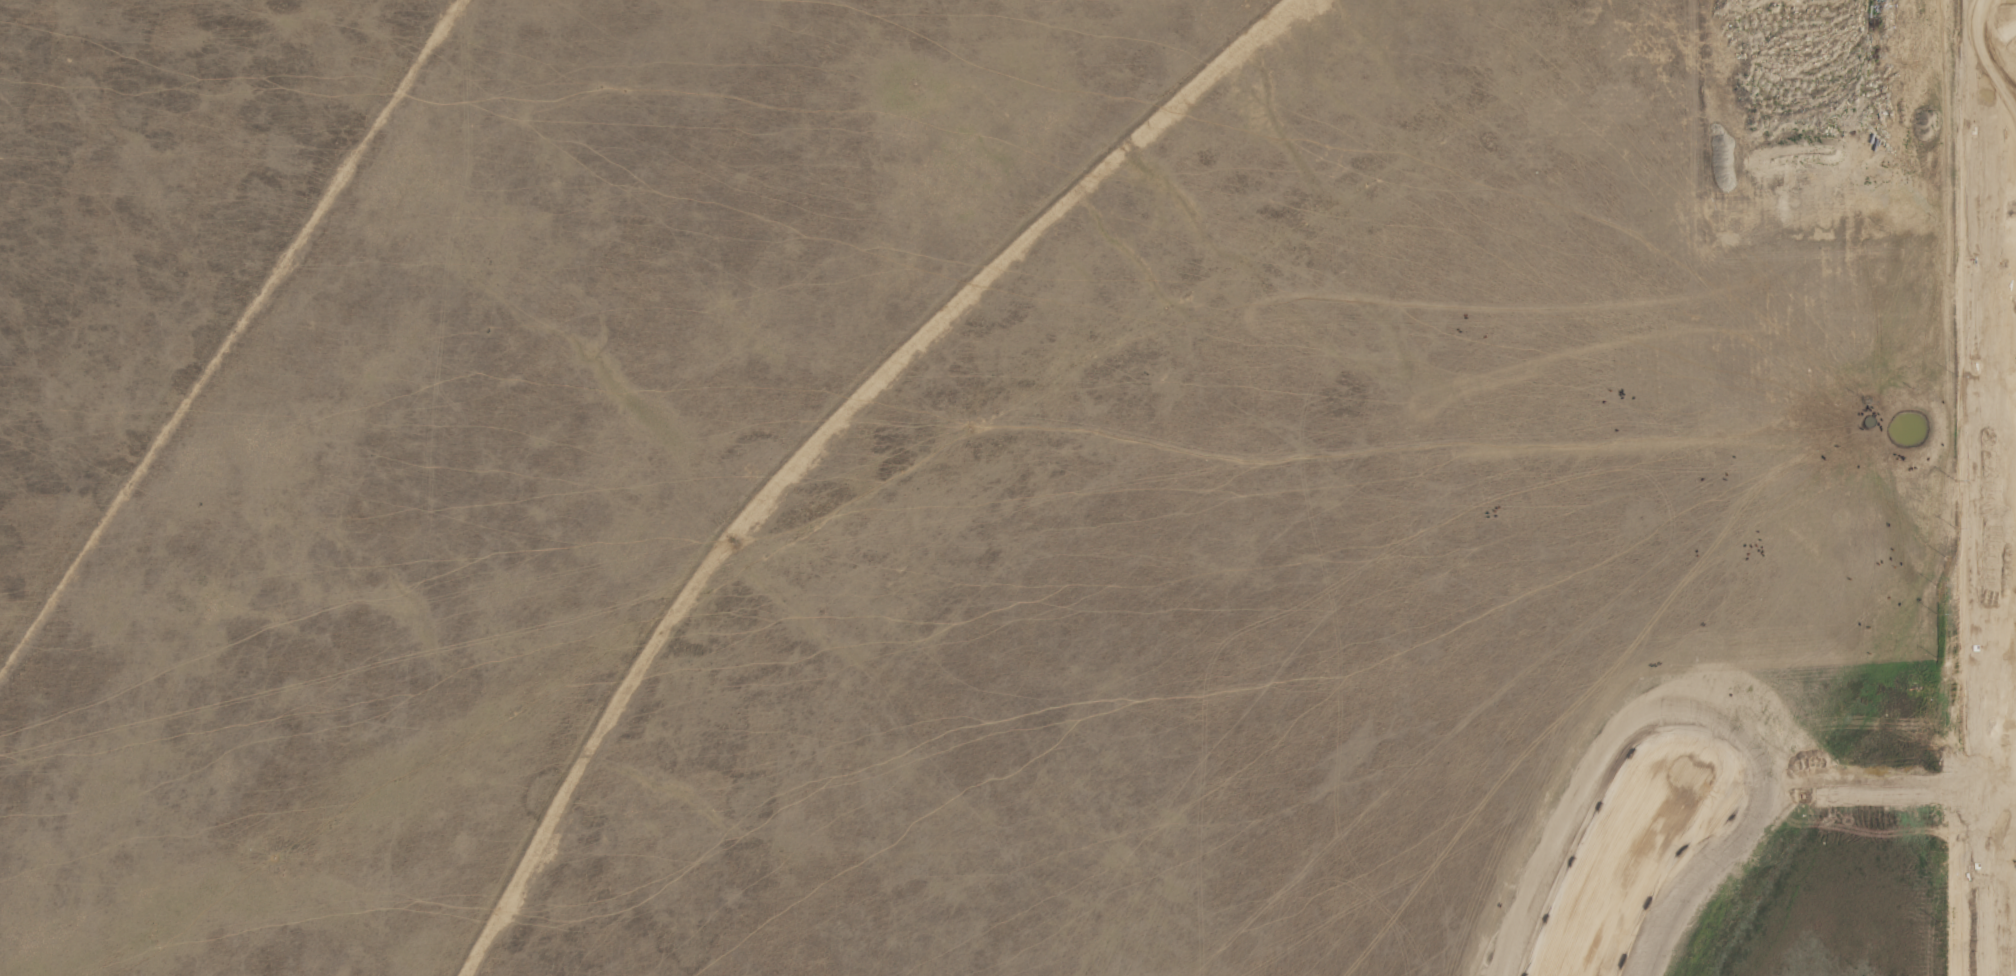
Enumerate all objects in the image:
road: (1973, 488)

